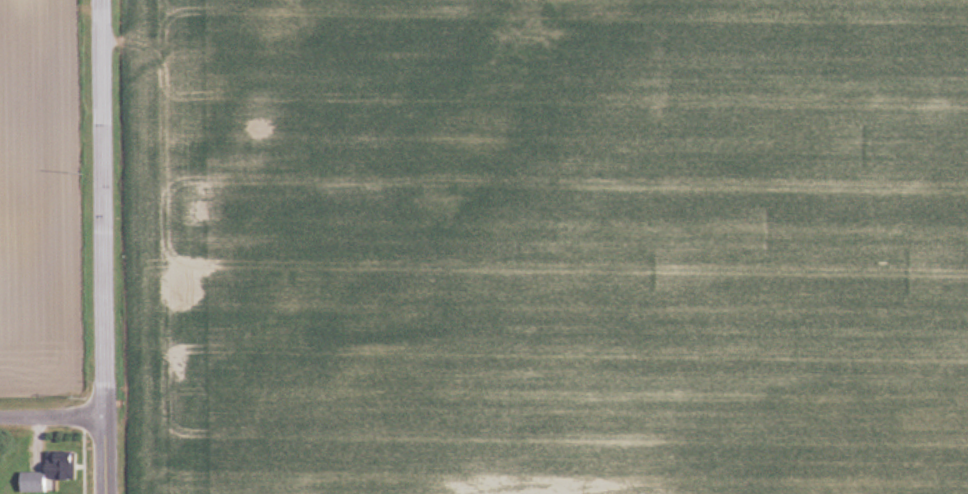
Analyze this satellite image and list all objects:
road: (103, 208)
road: (53, 417)
road: (107, 455)
building: (52, 473)

